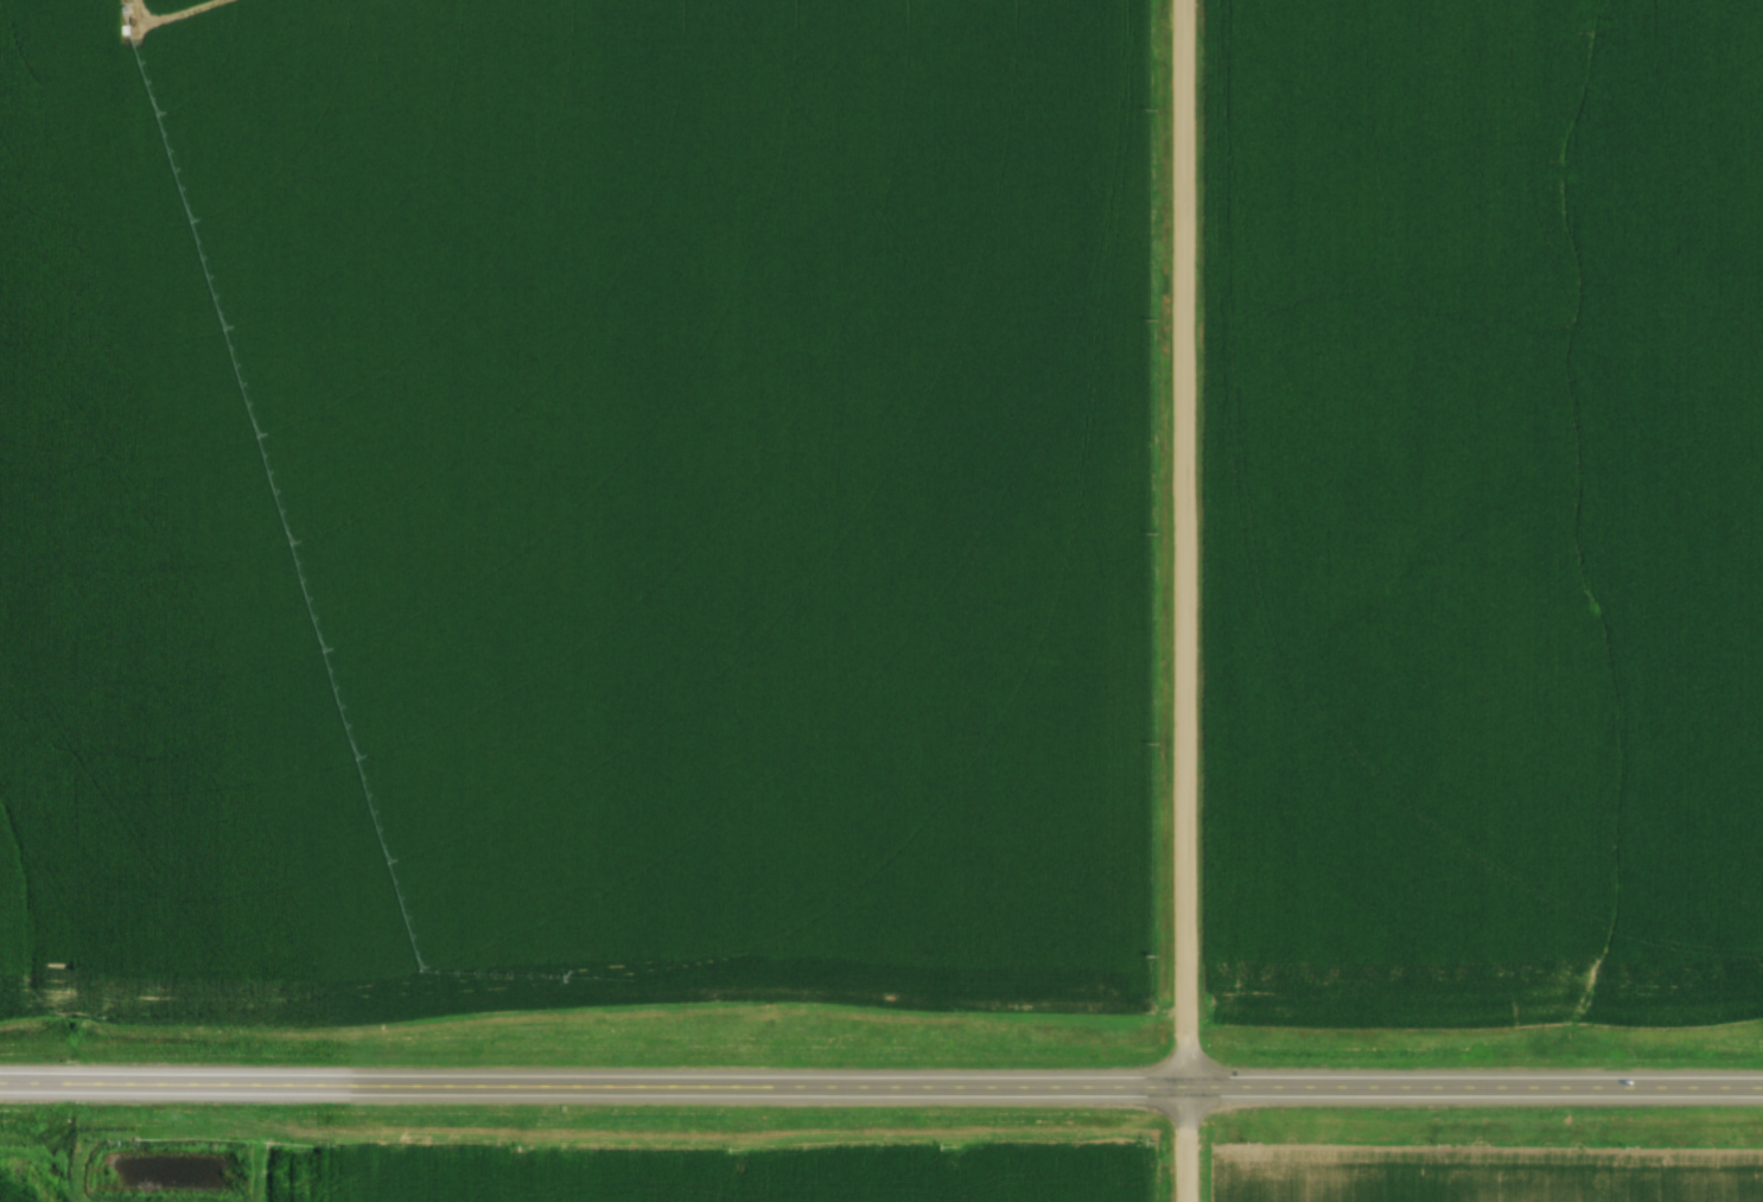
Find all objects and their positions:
crop: (571, 495)
road: (1184, 545)
road: (880, 1089)
road: (1189, 1146)
crop: (1483, 1172)
crop: (726, 1175)
crop: (24, 1188)

